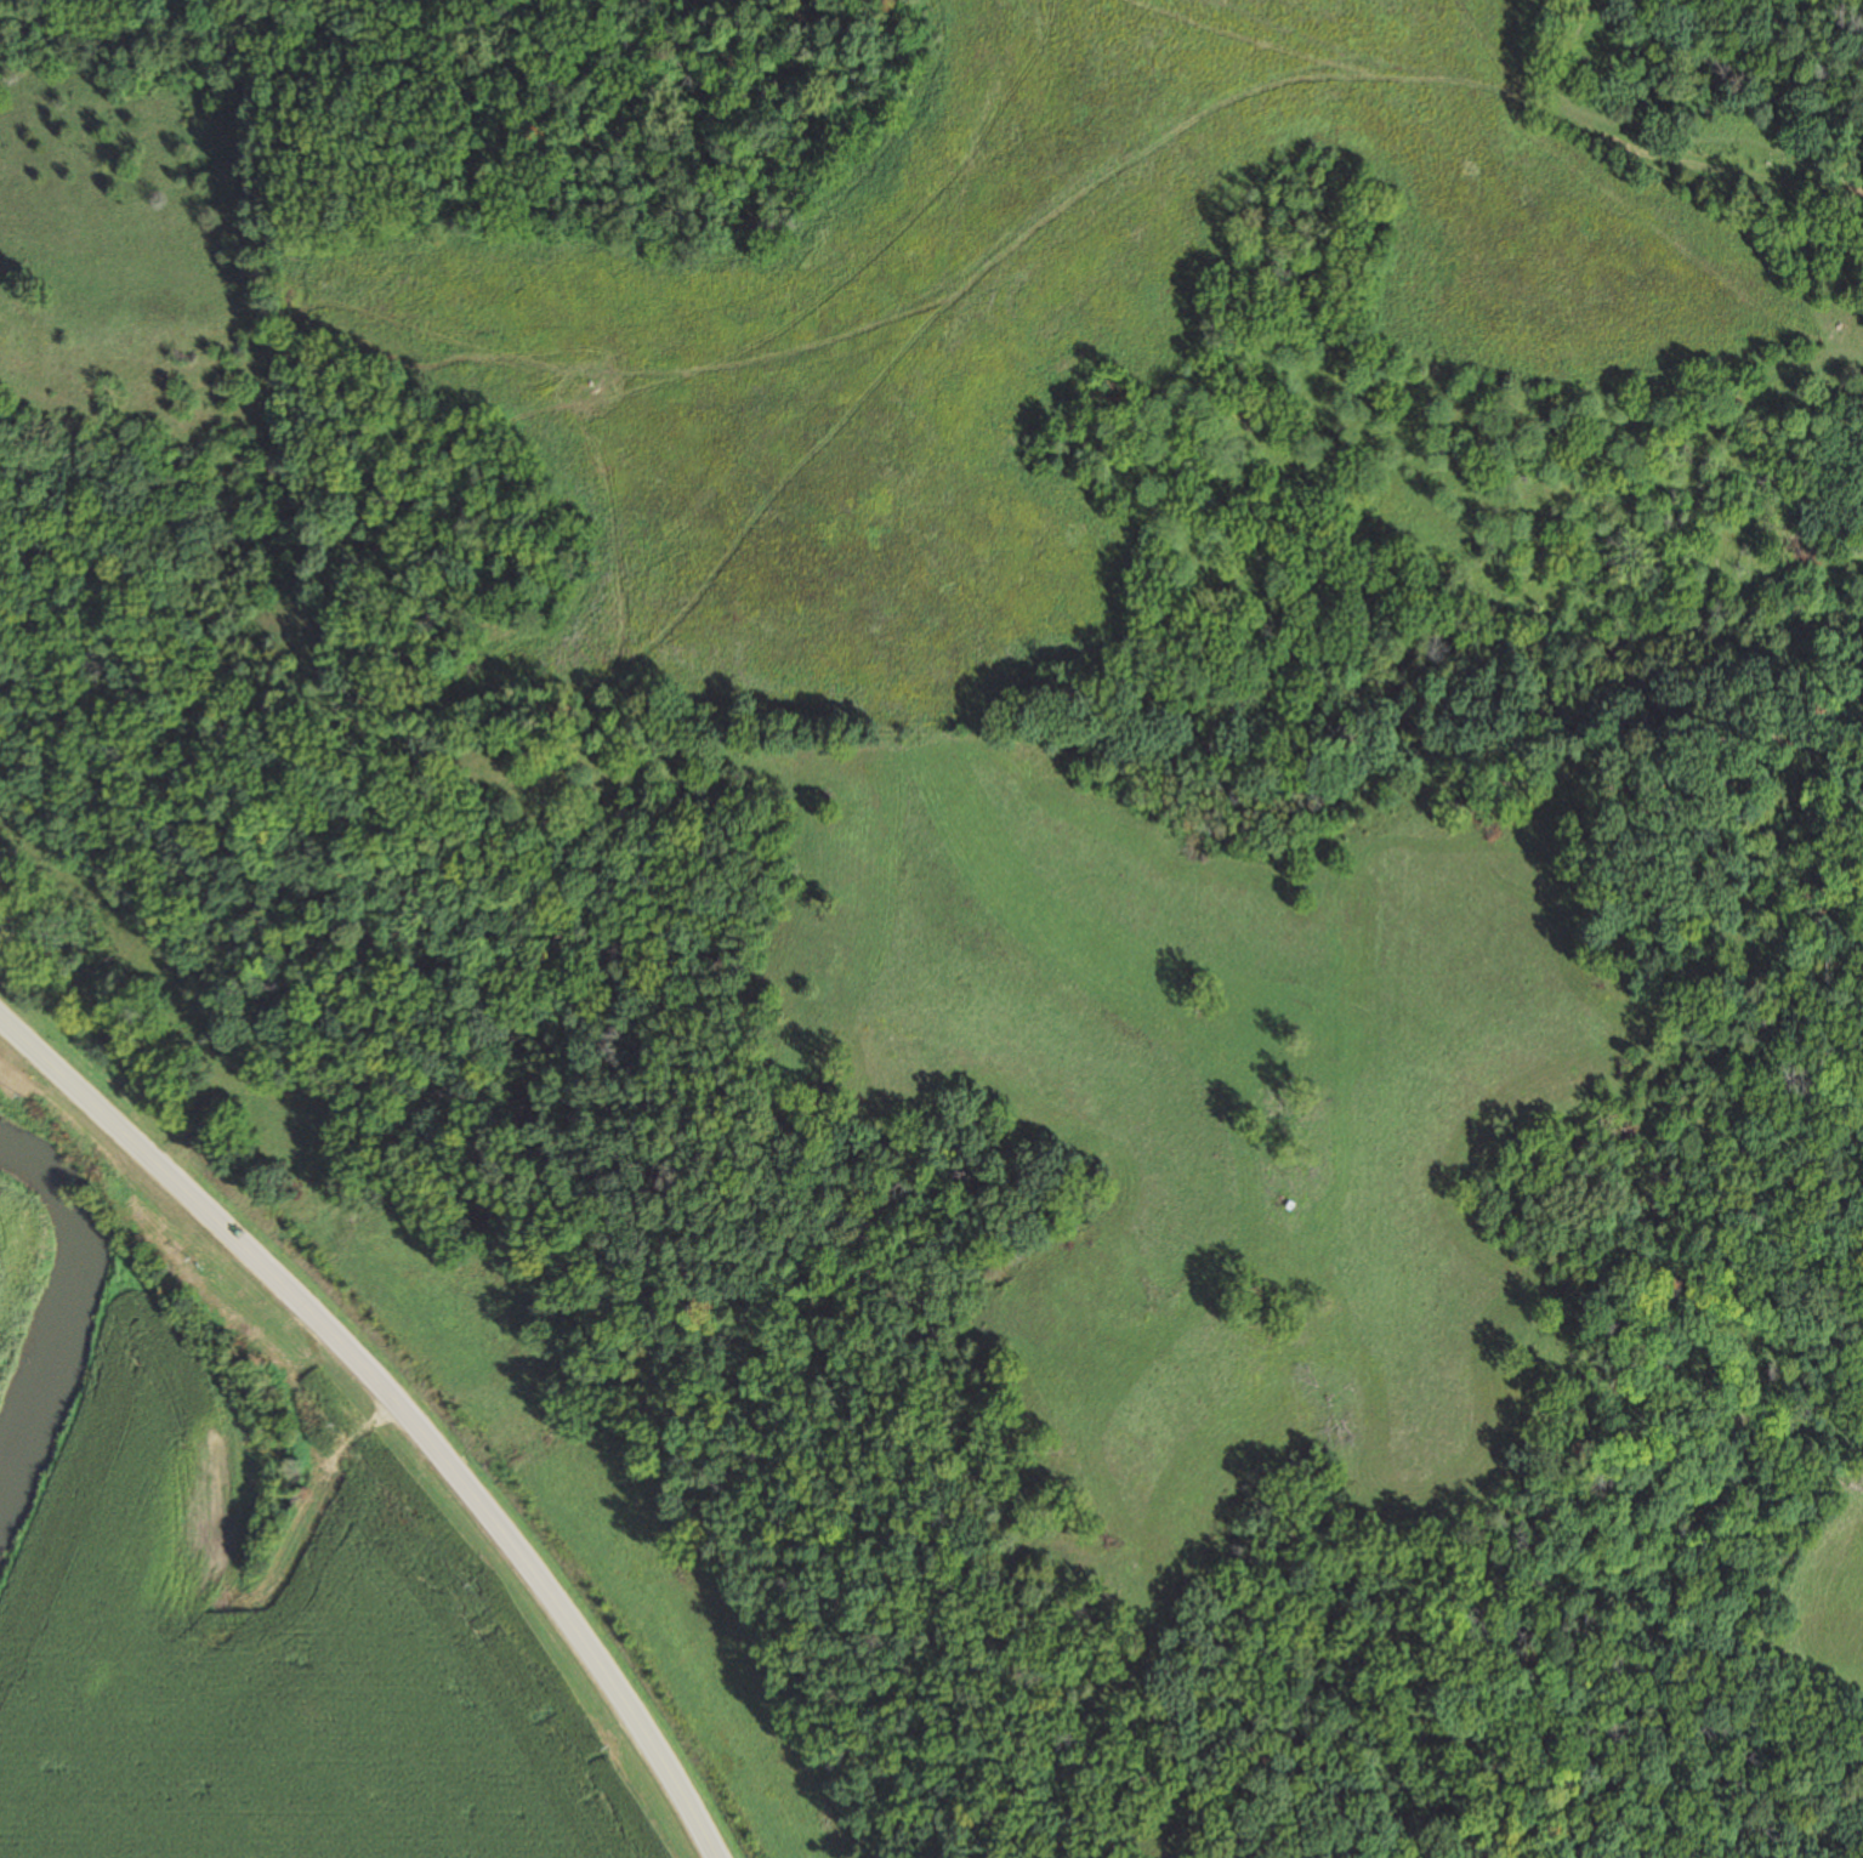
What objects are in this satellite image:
river: (49, 1279)
road: (398, 1405)

